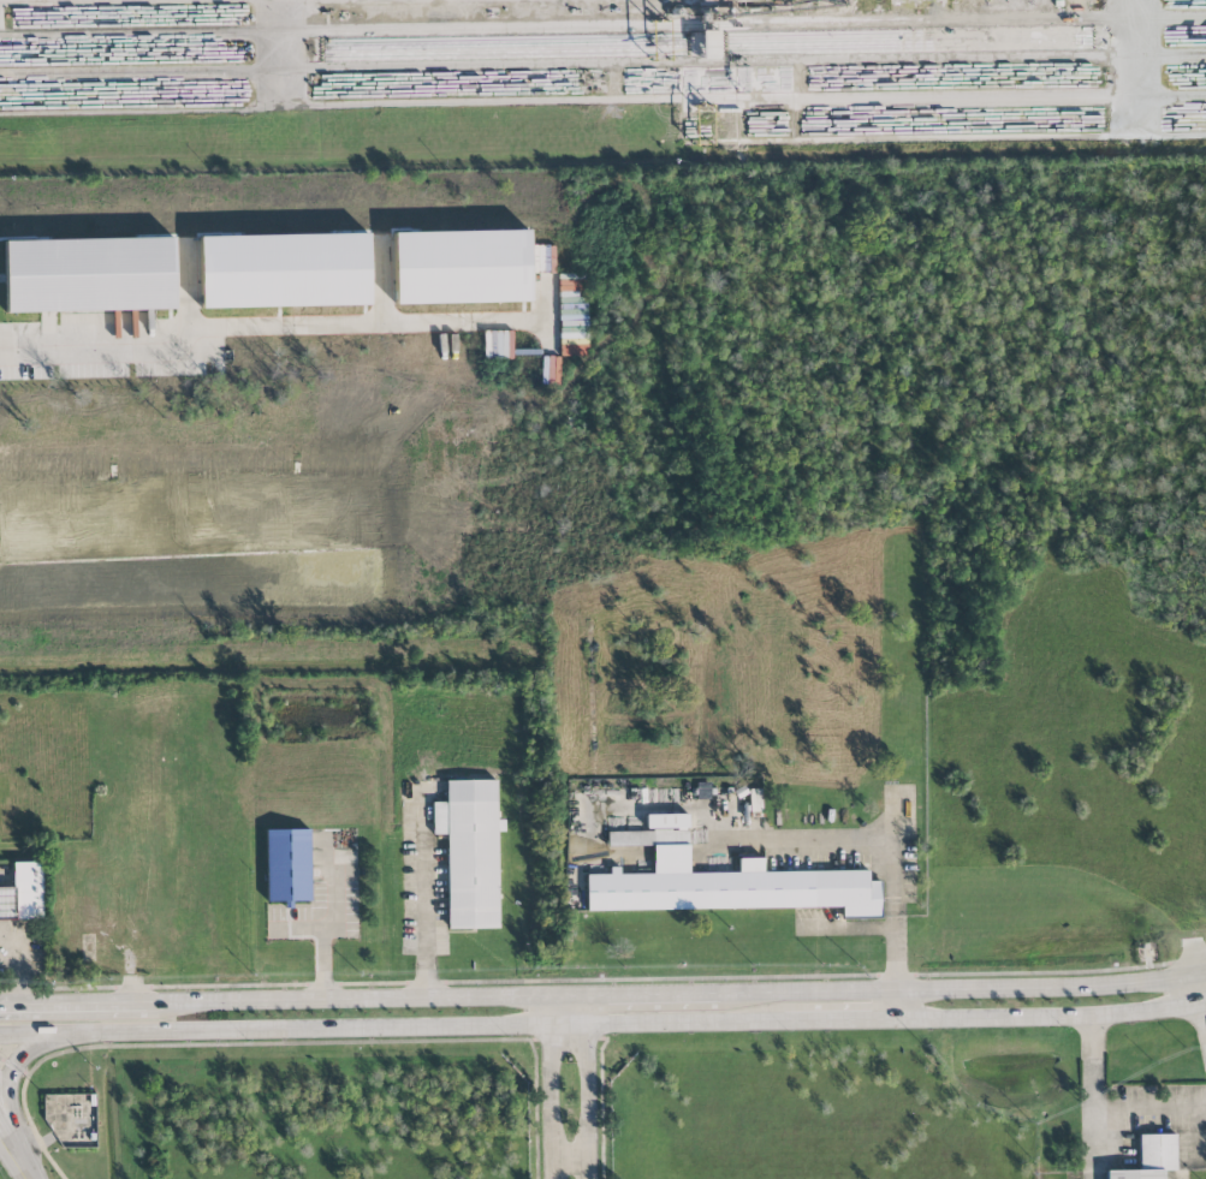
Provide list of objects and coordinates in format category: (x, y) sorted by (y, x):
road: (408, 2)
building: (711, 43)
road: (195, 111)
building: (541, 256)
building: (462, 267)
building: (284, 270)
building: (89, 274)
road: (218, 332)
building: (498, 345)
road: (872, 842)
building: (470, 852)
building: (287, 865)
building: (724, 881)
building: (23, 893)
road: (426, 899)
road: (298, 927)
road: (323, 927)
road: (849, 928)
road: (1193, 954)
road: (24, 960)
road: (1201, 972)
road: (602, 978)
road: (957, 988)
road: (1199, 989)
road: (654, 990)
road: (570, 992)
road: (347, 994)
road: (72, 996)
road: (895, 1006)
road: (1204, 1013)
road: (602, 1026)
road: (13, 1066)
road: (551, 1085)
road: (590, 1085)
road: (8, 1095)
road: (1094, 1097)
road: (1151, 1109)
road: (13, 1156)
building: (1151, 1157)
road: (571, 1160)

